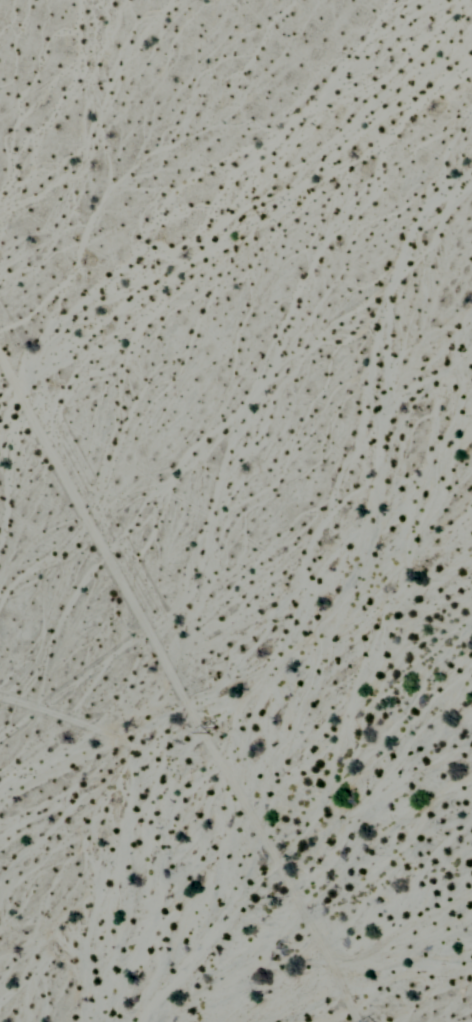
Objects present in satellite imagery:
road: (171, 681)
power tower: (220, 728)

